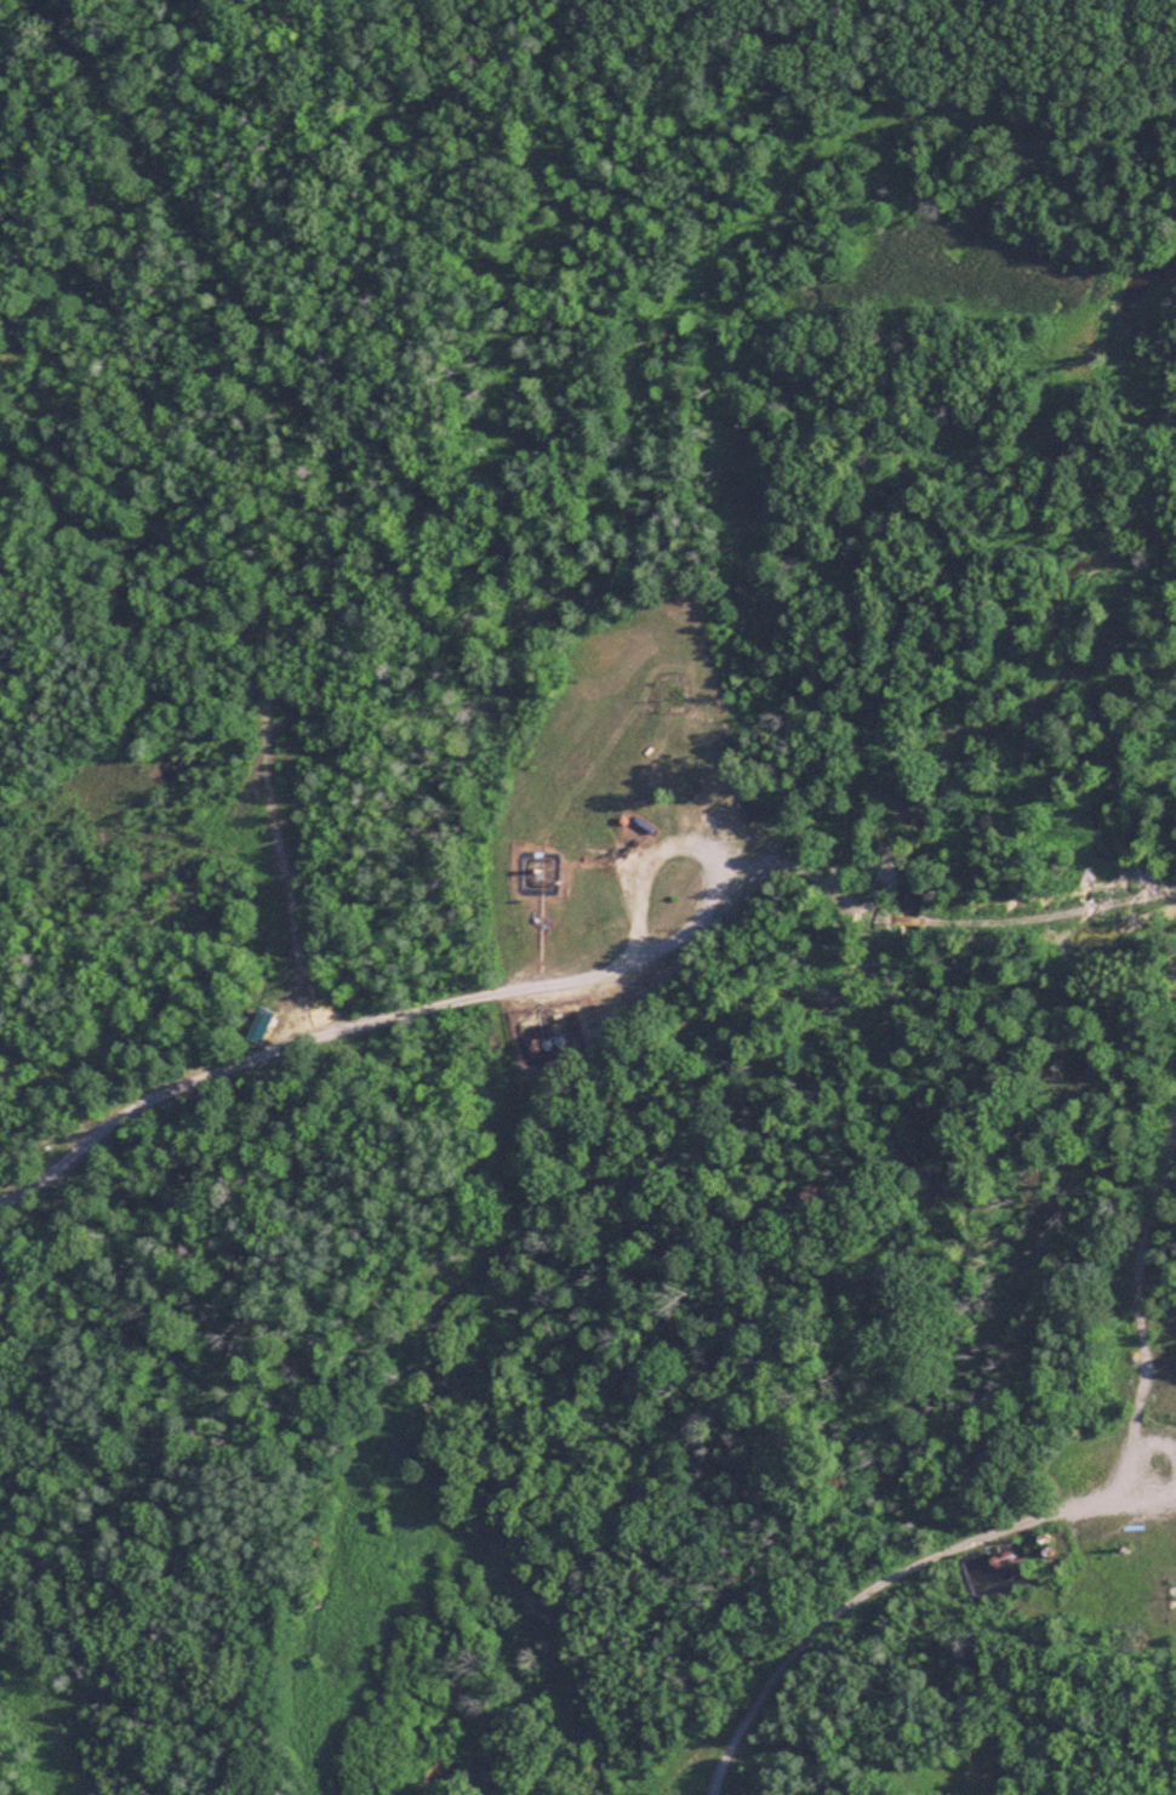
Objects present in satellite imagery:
road: (298, 805)
road: (698, 853)
road: (1040, 1515)

